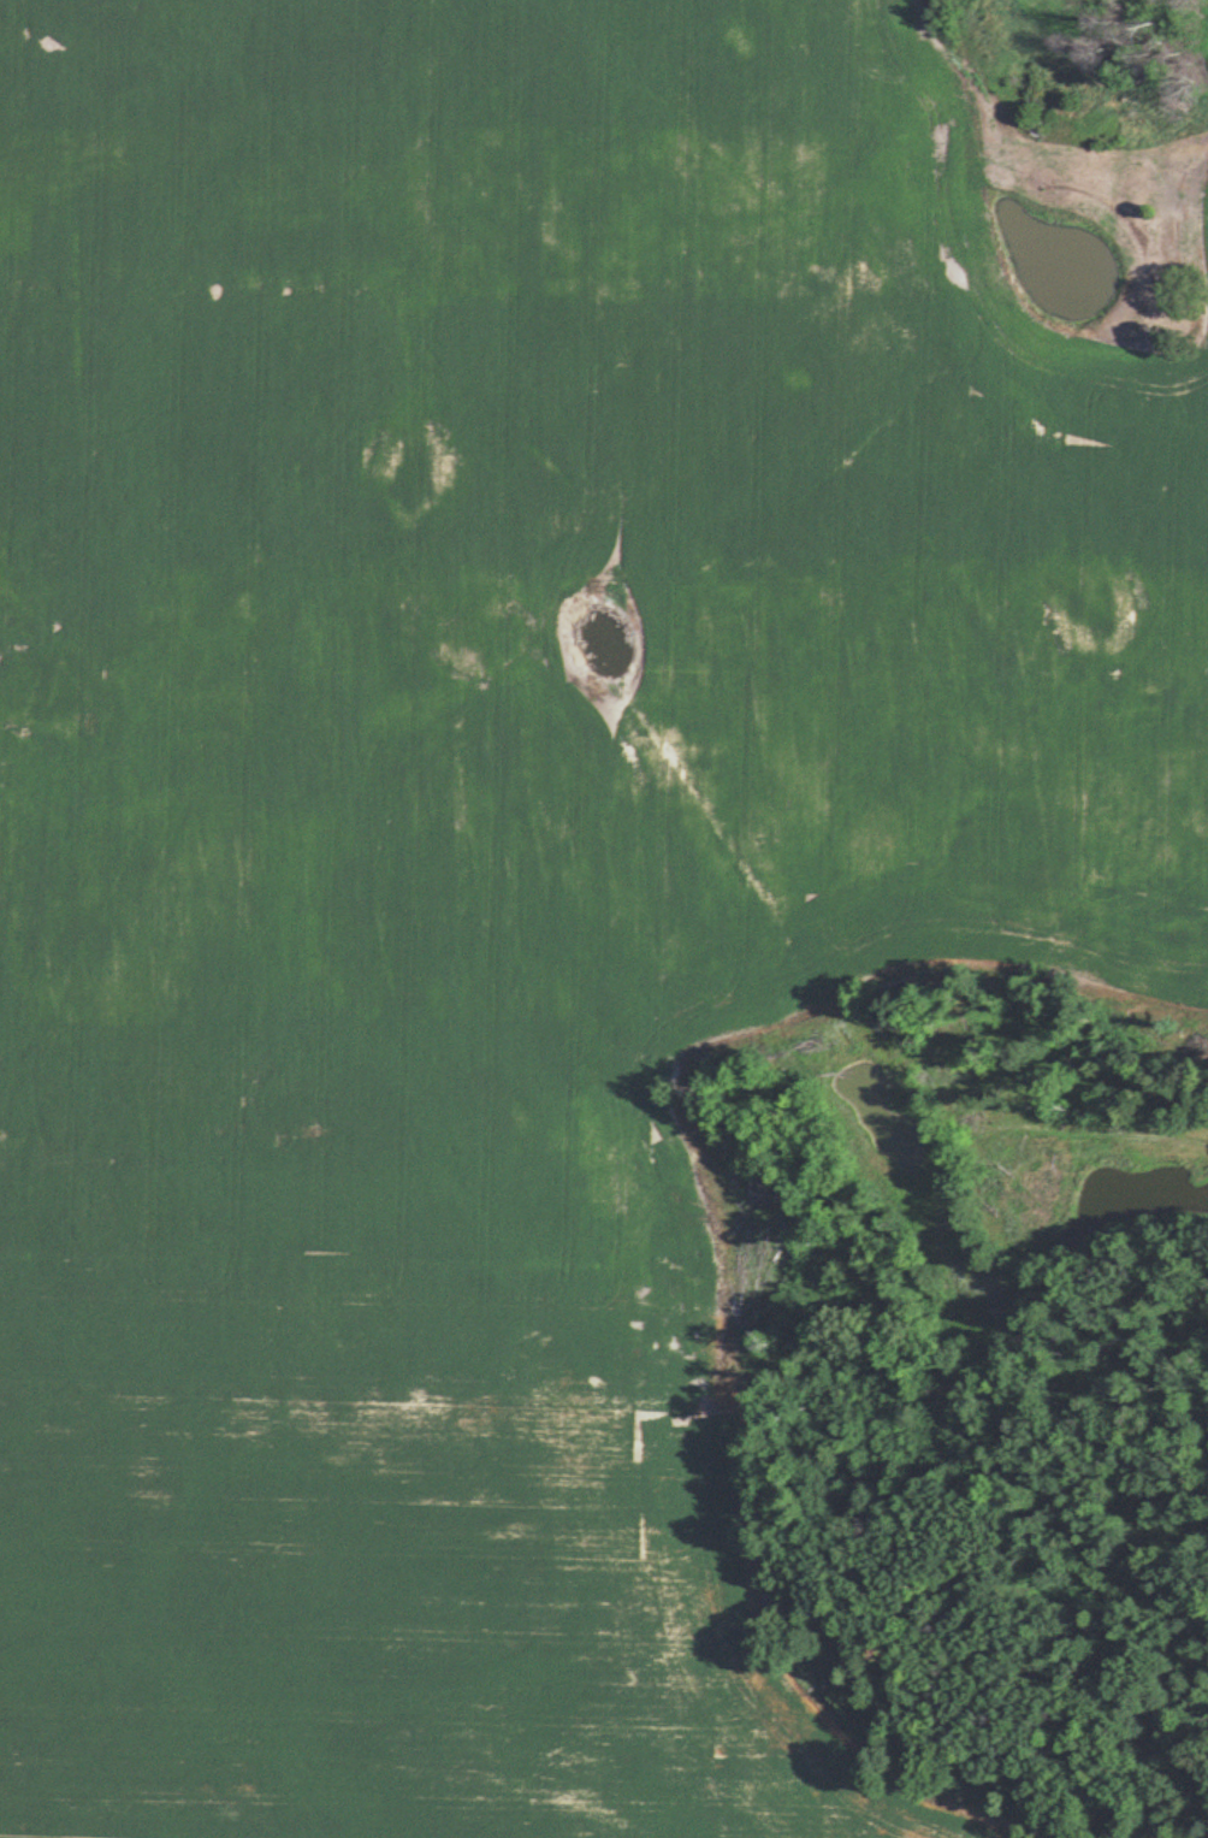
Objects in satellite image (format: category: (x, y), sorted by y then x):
park: (604, 679)

